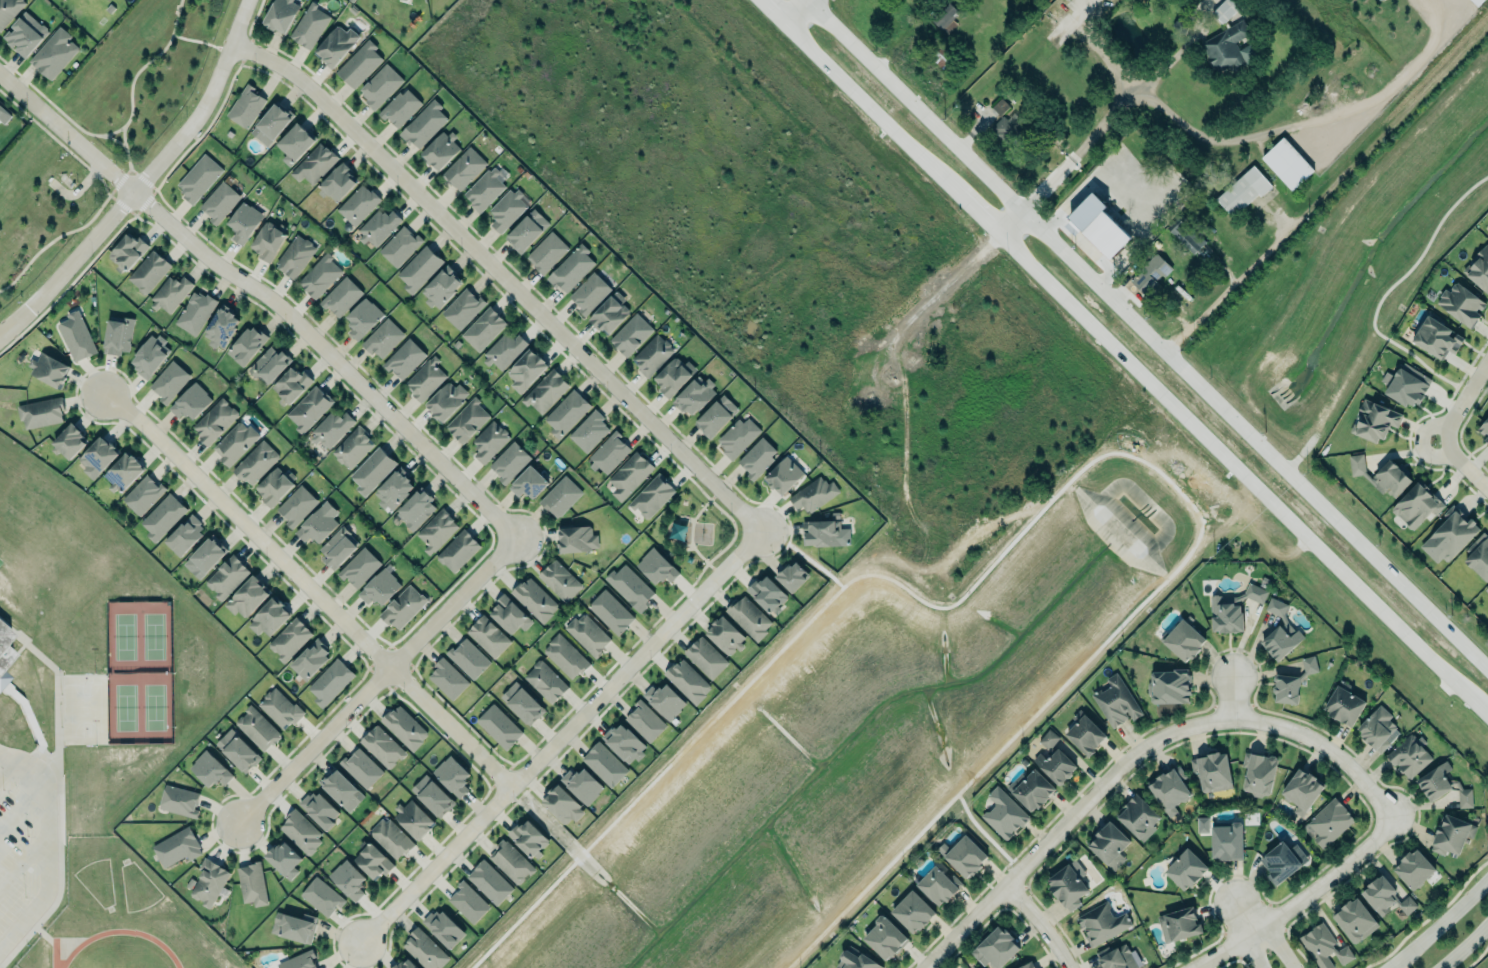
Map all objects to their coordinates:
building: (1476, 2)
building: (9, 10)
building: (1225, 10)
road: (799, 12)
building: (280, 14)
building: (945, 17)
building: (310, 24)
building: (26, 33)
building: (1224, 45)
building: (337, 46)
road: (1098, 50)
building: (55, 52)
road: (1178, 52)
building: (941, 55)
building: (359, 64)
building: (380, 86)
building: (246, 106)
building: (400, 107)
building: (999, 107)
building: (1, 108)
building: (273, 124)
building: (424, 124)
building: (1007, 131)
building: (296, 142)
road: (1220, 146)
building: (441, 149)
building: (314, 164)
building: (1287, 164)
building: (465, 168)
building: (198, 178)
road: (143, 179)
building: (338, 183)
road: (1324, 187)
building: (485, 189)
building: (1242, 191)
building: (220, 201)
building: (359, 204)
building: (507, 209)
building: (244, 221)
building: (378, 226)
building: (1097, 226)
building: (527, 230)
building: (1187, 236)
building: (268, 240)
building: (399, 246)
building: (128, 251)
building: (547, 252)
building: (295, 256)
building: (420, 268)
building: (572, 268)
building: (1481, 269)
building: (148, 272)
building: (320, 275)
building: (1150, 276)
road: (501, 277)
building: (441, 288)
building: (590, 292)
building: (171, 293)
road: (266, 297)
building: (341, 297)
building: (1462, 304)
building: (462, 308)
building: (196, 312)
building: (610, 312)
building: (363, 318)
building: (221, 328)
building: (484, 328)
building: (119, 334)
building: (632, 334)
road: (1145, 335)
building: (77, 336)
building: (383, 338)
building: (1437, 338)
building: (247, 345)
road: (1109, 350)
building: (504, 351)
building: (653, 355)
building: (150, 356)
building: (404, 359)
building: (269, 365)
building: (49, 368)
building: (527, 369)
building: (675, 375)
building: (425, 378)
building: (170, 381)
building: (1406, 384)
building: (290, 385)
building: (546, 391)
building: (696, 395)
road: (1459, 399)
building: (447, 400)
building: (191, 401)
building: (309, 409)
building: (41, 412)
building: (567, 413)
building: (717, 416)
building: (215, 420)
building: (468, 420)
building: (1375, 421)
building: (1484, 426)
building: (330, 429)
building: (590, 430)
building: (738, 436)
building: (1487, 440)
building: (490, 441)
building: (69, 442)
building: (235, 443)
building: (353, 448)
building: (609, 454)
building: (97, 457)
building: (758, 457)
building: (510, 461)
building: (256, 462)
road: (1459, 466)
building: (373, 470)
building: (122, 472)
building: (630, 475)
building: (784, 475)
building: (1380, 475)
building: (529, 482)
building: (275, 486)
building: (394, 489)
building: (143, 494)
building: (814, 494)
building: (652, 496)
building: (560, 497)
building: (1417, 504)
building: (297, 505)
building: (416, 509)
building: (163, 516)
building: (318, 523)
building: (437, 530)
road: (692, 530)
park: (696, 530)
road: (735, 531)
building: (824, 533)
building: (184, 535)
building: (1449, 536)
building: (577, 539)
building: (338, 547)
building: (459, 550)
building: (1479, 556)
building: (205, 557)
building: (658, 566)
building: (359, 567)
building: (228, 577)
building: (793, 577)
building: (560, 580)
road: (307, 585)
building: (380, 587)
building: (630, 587)
building: (1486, 589)
building: (768, 594)
building: (247, 596)
building: (535, 599)
building: (403, 607)
building: (1276, 607)
building: (1233, 609)
building: (612, 612)
building: (510, 614)
building: (270, 617)
building: (751, 617)
building: (589, 634)
building: (489, 636)
building: (726, 636)
building: (290, 639)
building: (1184, 640)
building: (1281, 640)
building: (4, 653)
building: (567, 656)
building: (707, 657)
building: (469, 658)
building: (310, 661)
road: (376, 679)
building: (447, 679)
building: (330, 681)
building: (545, 681)
building: (687, 681)
building: (1293, 683)
building: (1170, 686)
road: (1232, 697)
building: (1118, 700)
building: (668, 701)
building: (522, 703)
road: (1476, 705)
building: (1344, 706)
building: (279, 708)
building: (645, 722)
building: (500, 726)
building: (404, 727)
building: (257, 728)
building: (1377, 729)
road: (557, 733)
building: (1086, 735)
building: (1049, 739)
building: (624, 743)
building: (383, 746)
building: (238, 750)
road: (1135, 752)
building: (1409, 754)
building: (606, 764)
building: (1057, 766)
building: (361, 768)
building: (210, 770)
building: (1213, 771)
building: (1259, 773)
building: (452, 775)
building: (582, 785)
building: (1031, 788)
building: (341, 790)
building: (1171, 790)
building: (1301, 791)
building: (432, 796)
building: (179, 801)
building: (563, 804)
building: (320, 809)
building: (1004, 814)
building: (1139, 817)
building: (413, 818)
building: (1328, 823)
building: (301, 831)
building: (1451, 834)
building: (391, 837)
building: (529, 838)
building: (1227, 841)
road: (51, 843)
building: (1109, 844)
building: (178, 847)
building: (964, 856)
building: (284, 859)
building: (373, 861)
building: (1283, 861)
building: (510, 862)
building: (1186, 869)
building: (1414, 869)
building: (347, 880)
building: (209, 882)
building: (490, 882)
road: (1222, 882)
building: (253, 884)
building: (939, 885)
building: (1069, 886)
building: (322, 896)
building: (1387, 898)
road: (1302, 901)
building: (469, 902)
building: (914, 912)
building: (1355, 920)
road: (1041, 923)
building: (1104, 923)
building: (1179, 925)
road: (1440, 925)
building: (295, 927)
building: (444, 928)
building: (885, 937)
road: (1281, 947)
building: (1325, 947)
building: (995, 948)
road: (1466, 948)
building: (425, 950)
road: (1252, 955)
building: (1119, 958)
building: (299, 960)
building: (856, 960)
building: (406, 964)
building: (1027, 965)

